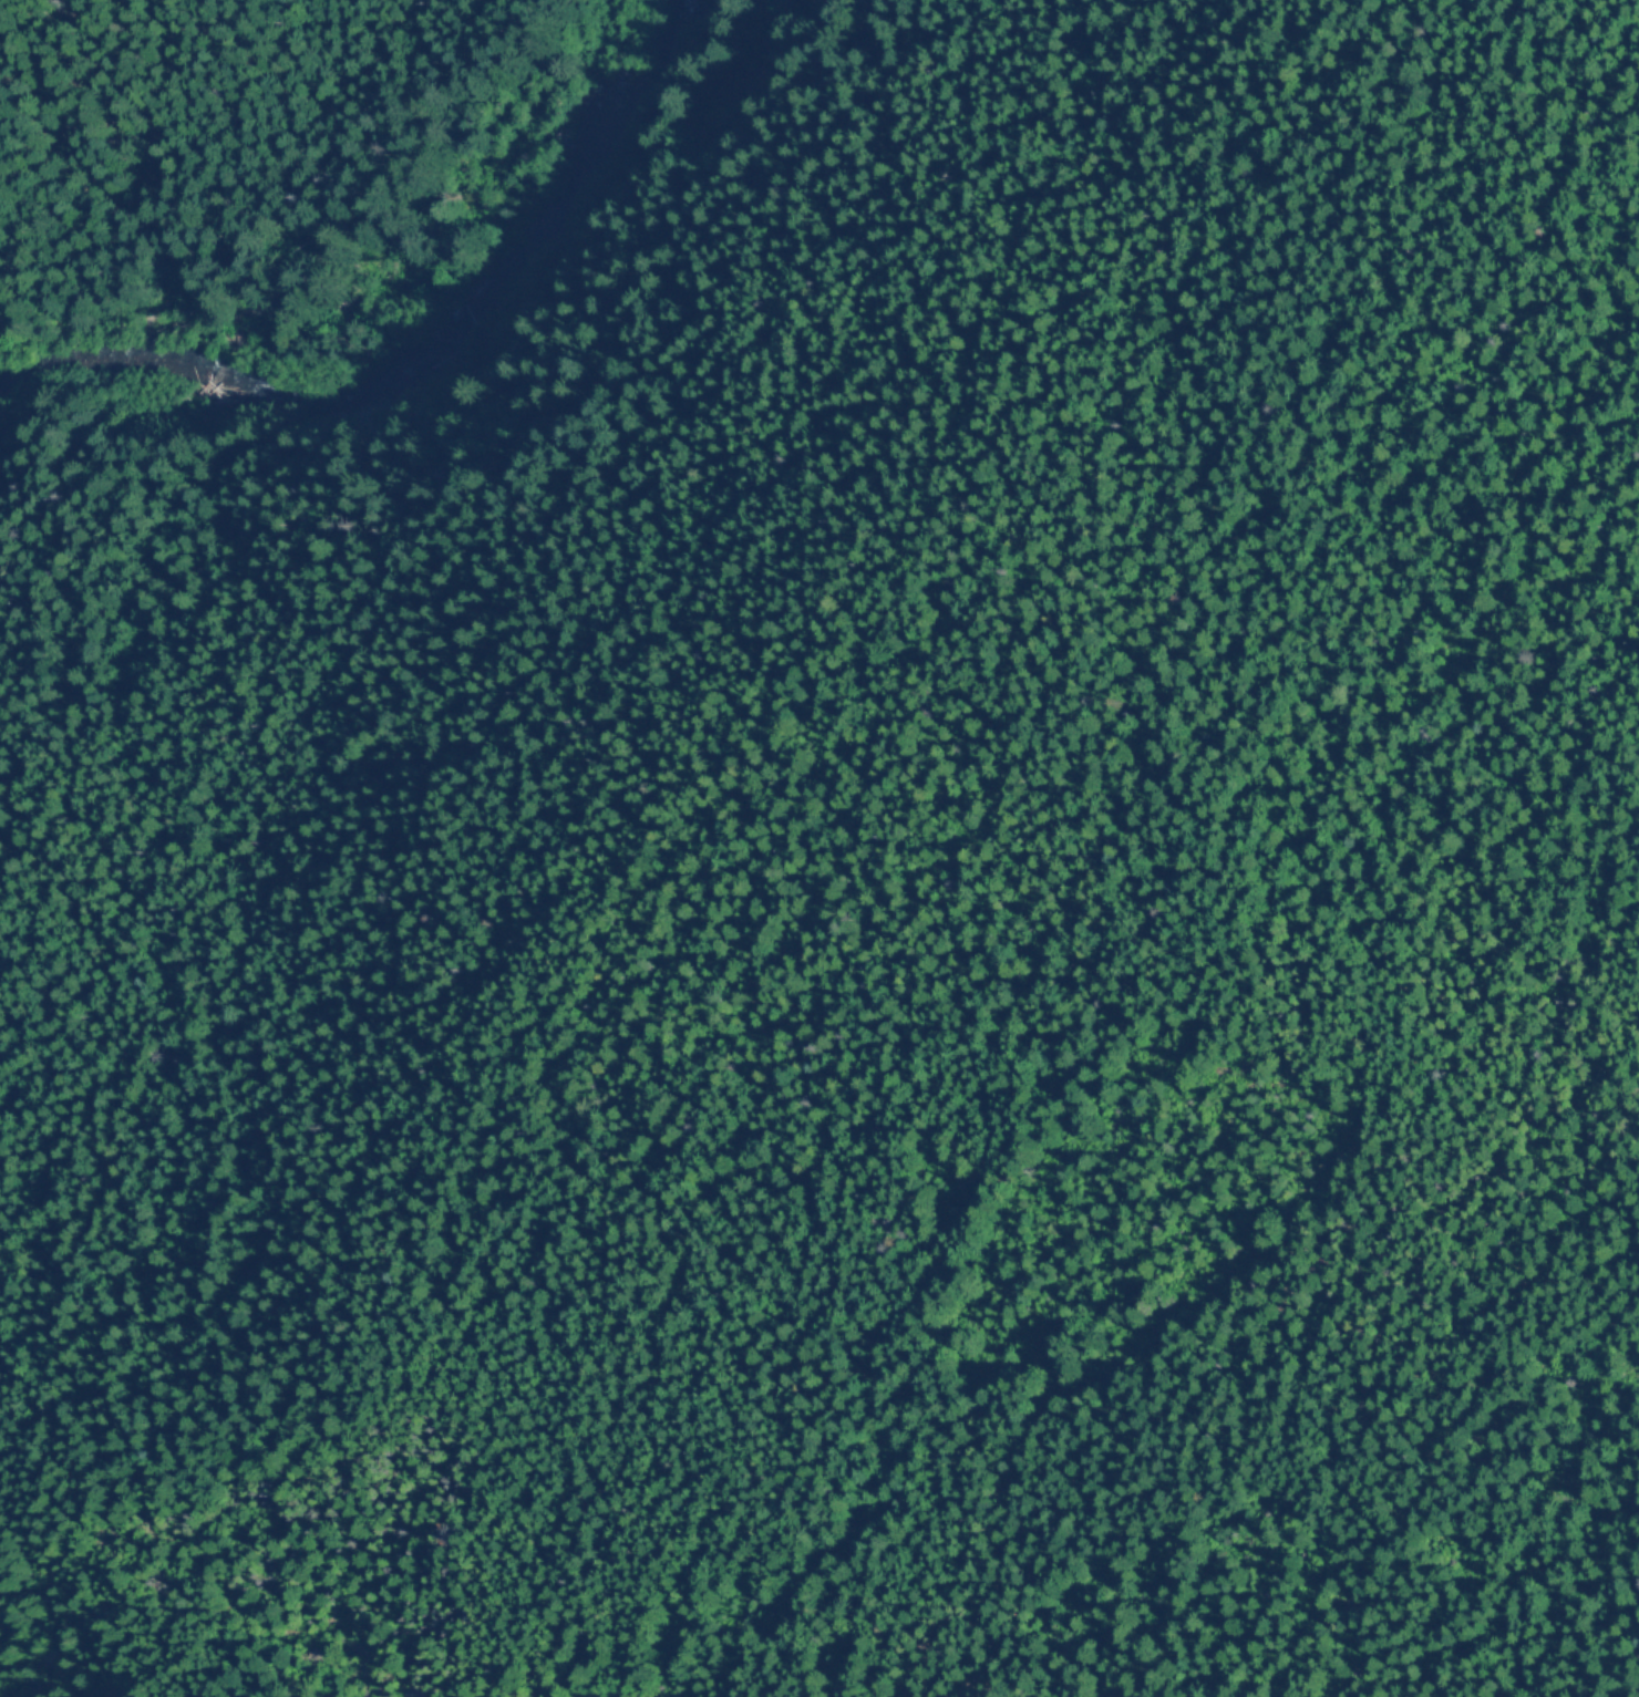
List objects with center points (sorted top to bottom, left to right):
river: (405, 348)

